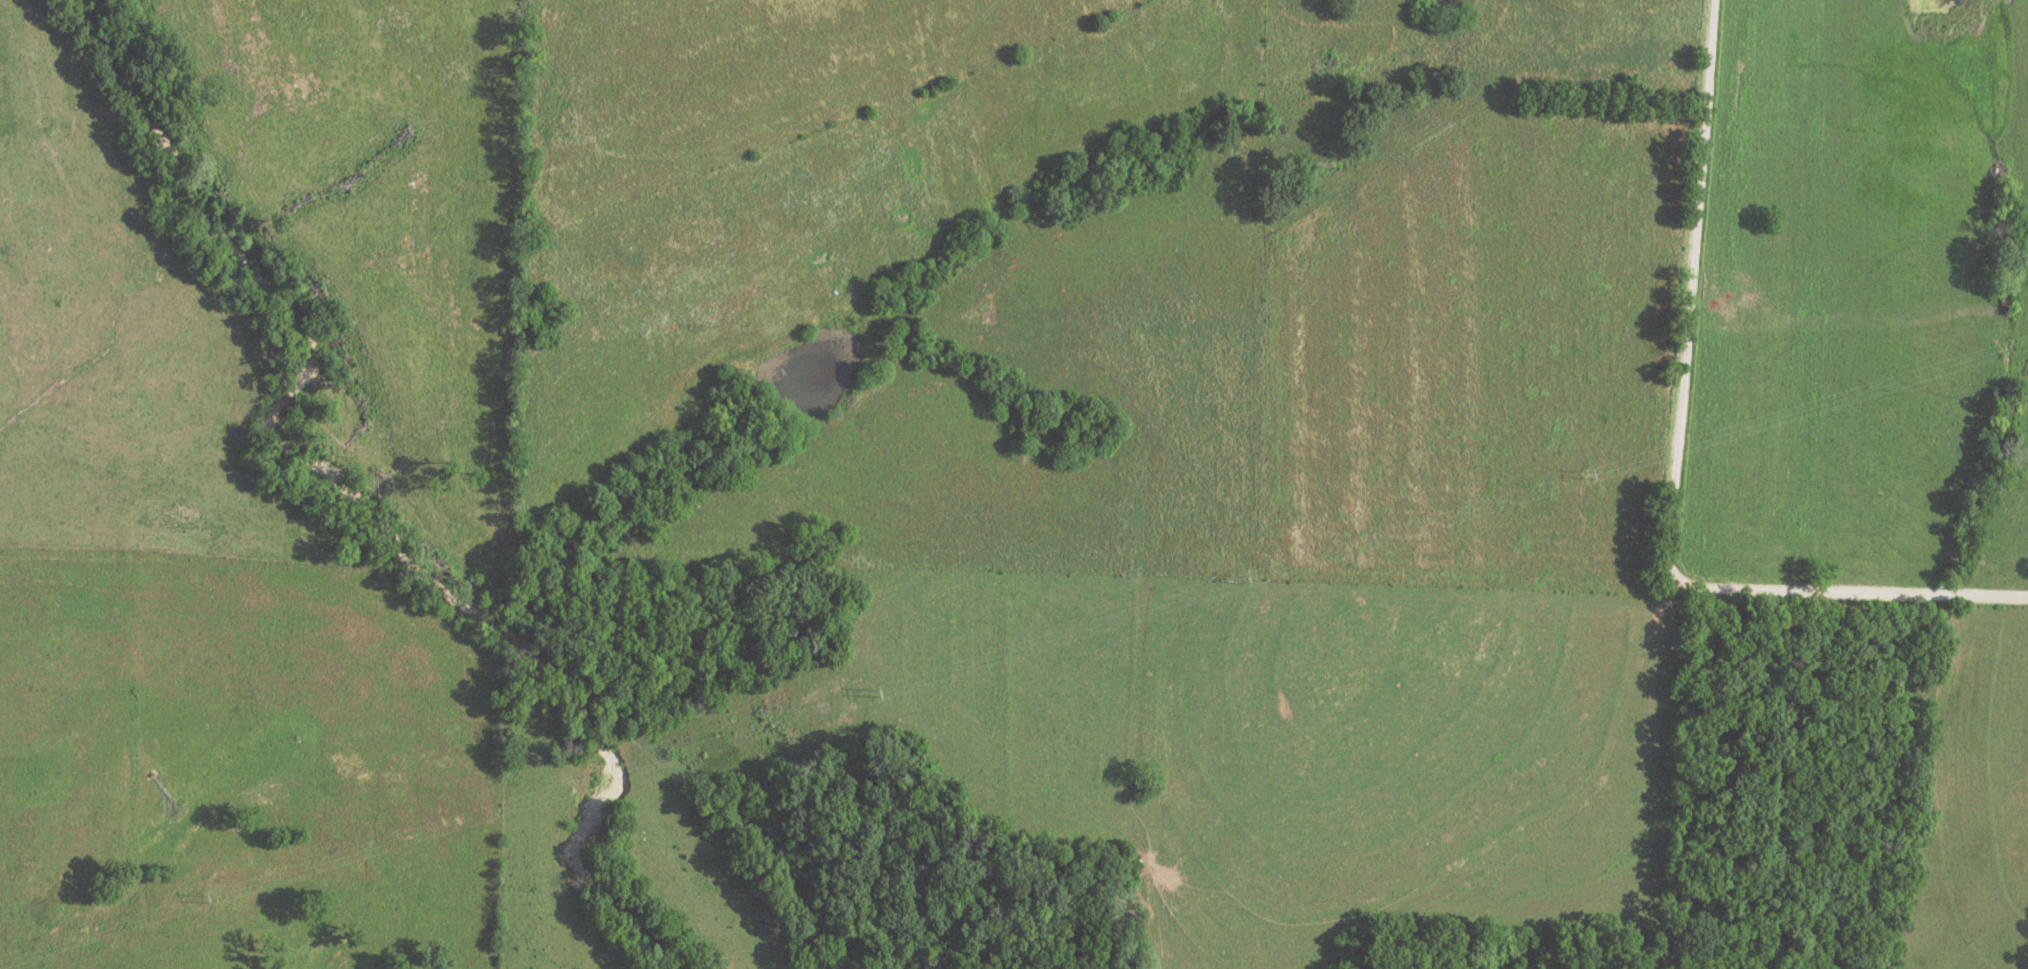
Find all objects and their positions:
road: (1679, 465)

